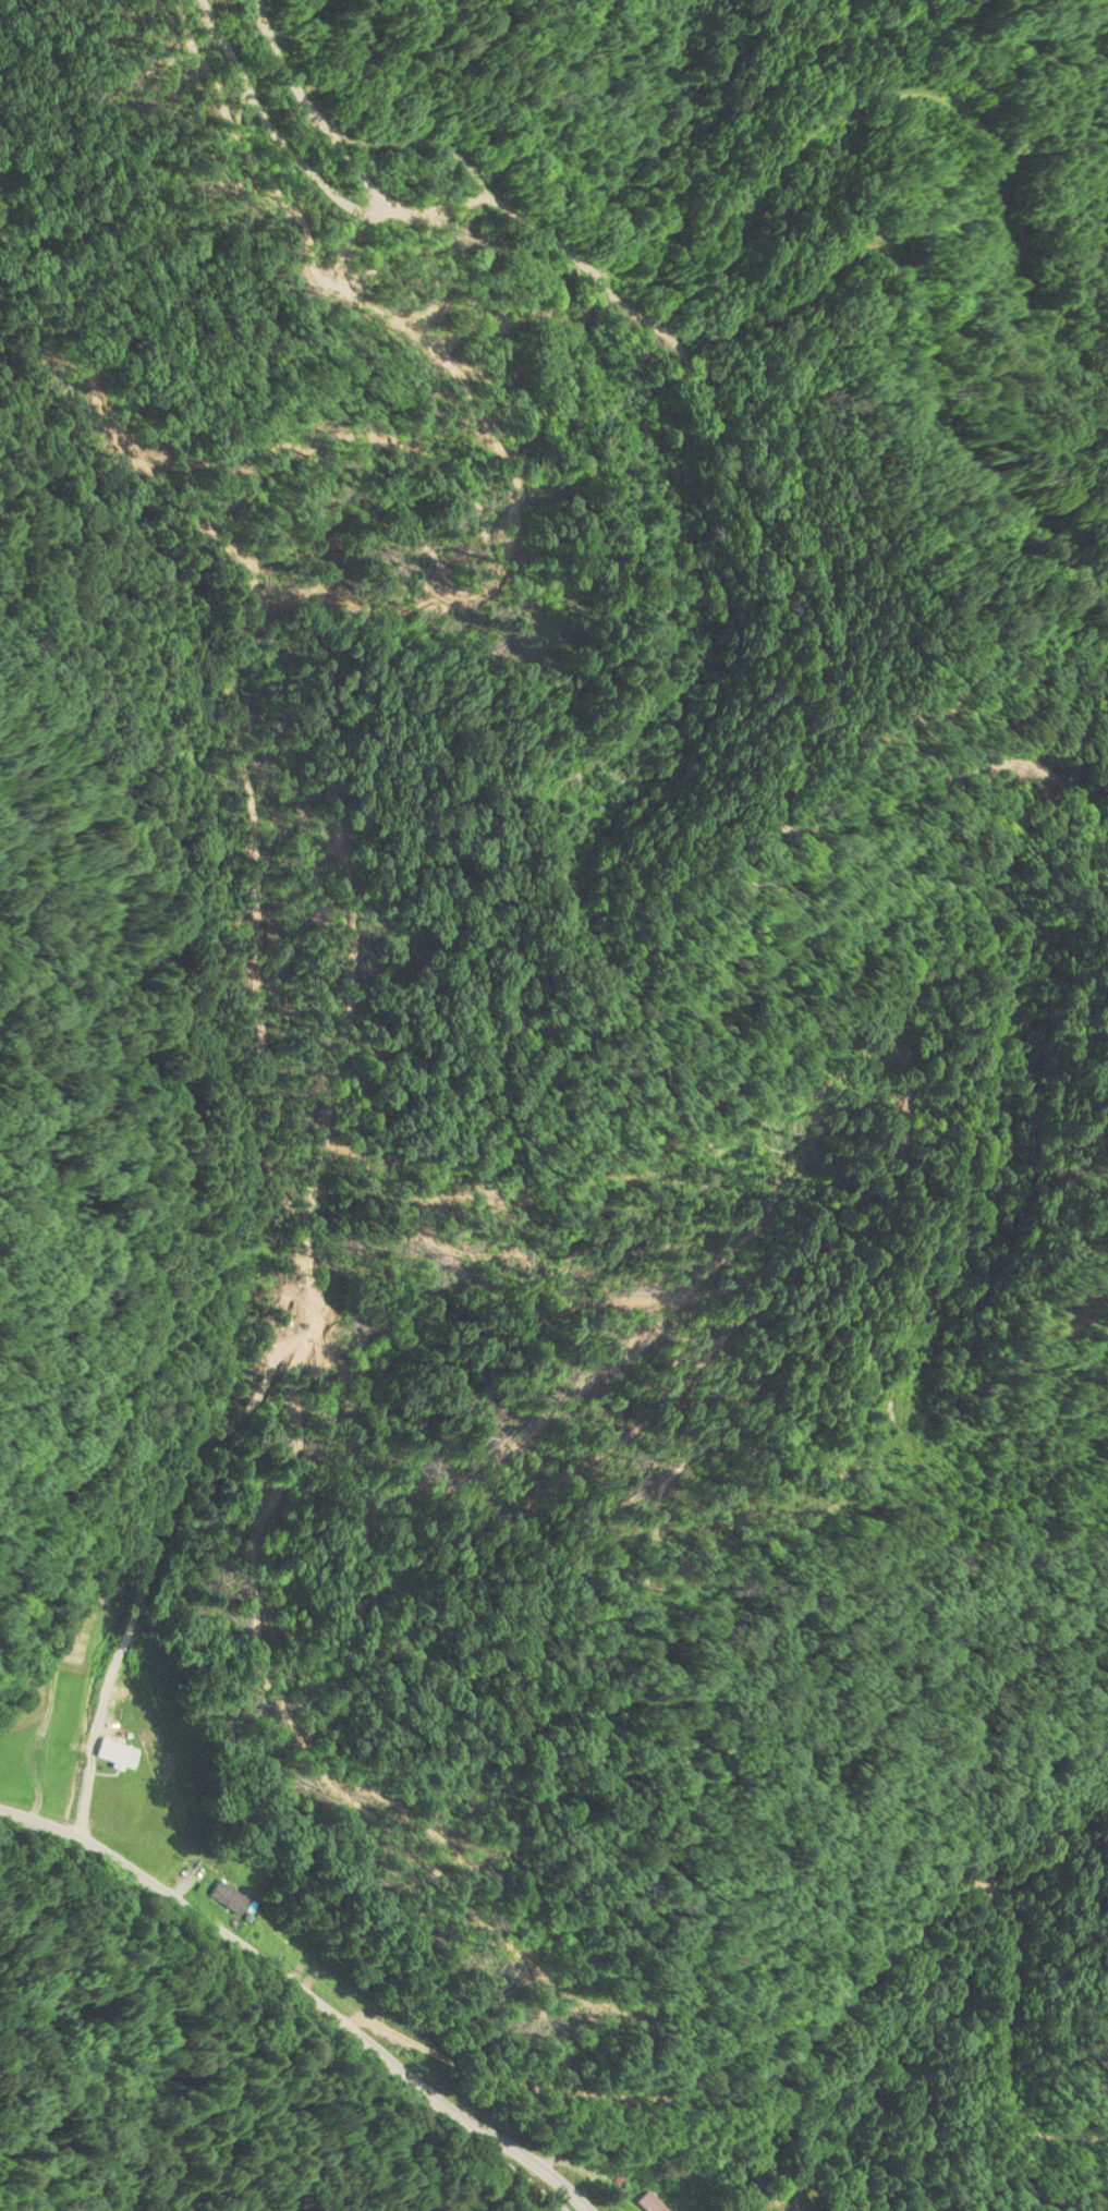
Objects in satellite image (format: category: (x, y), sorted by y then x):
building: (115, 1756)
building: (229, 1898)
building: (278, 1935)
road: (303, 1994)
building: (643, 2203)

